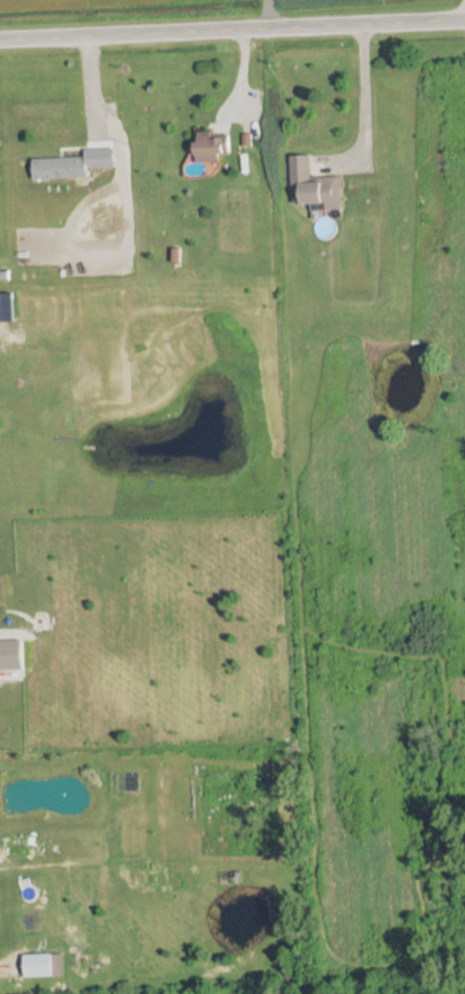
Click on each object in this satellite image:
road: (232, 29)
road: (364, 111)
building: (213, 146)
building: (75, 164)
building: (314, 186)
building: (39, 965)

